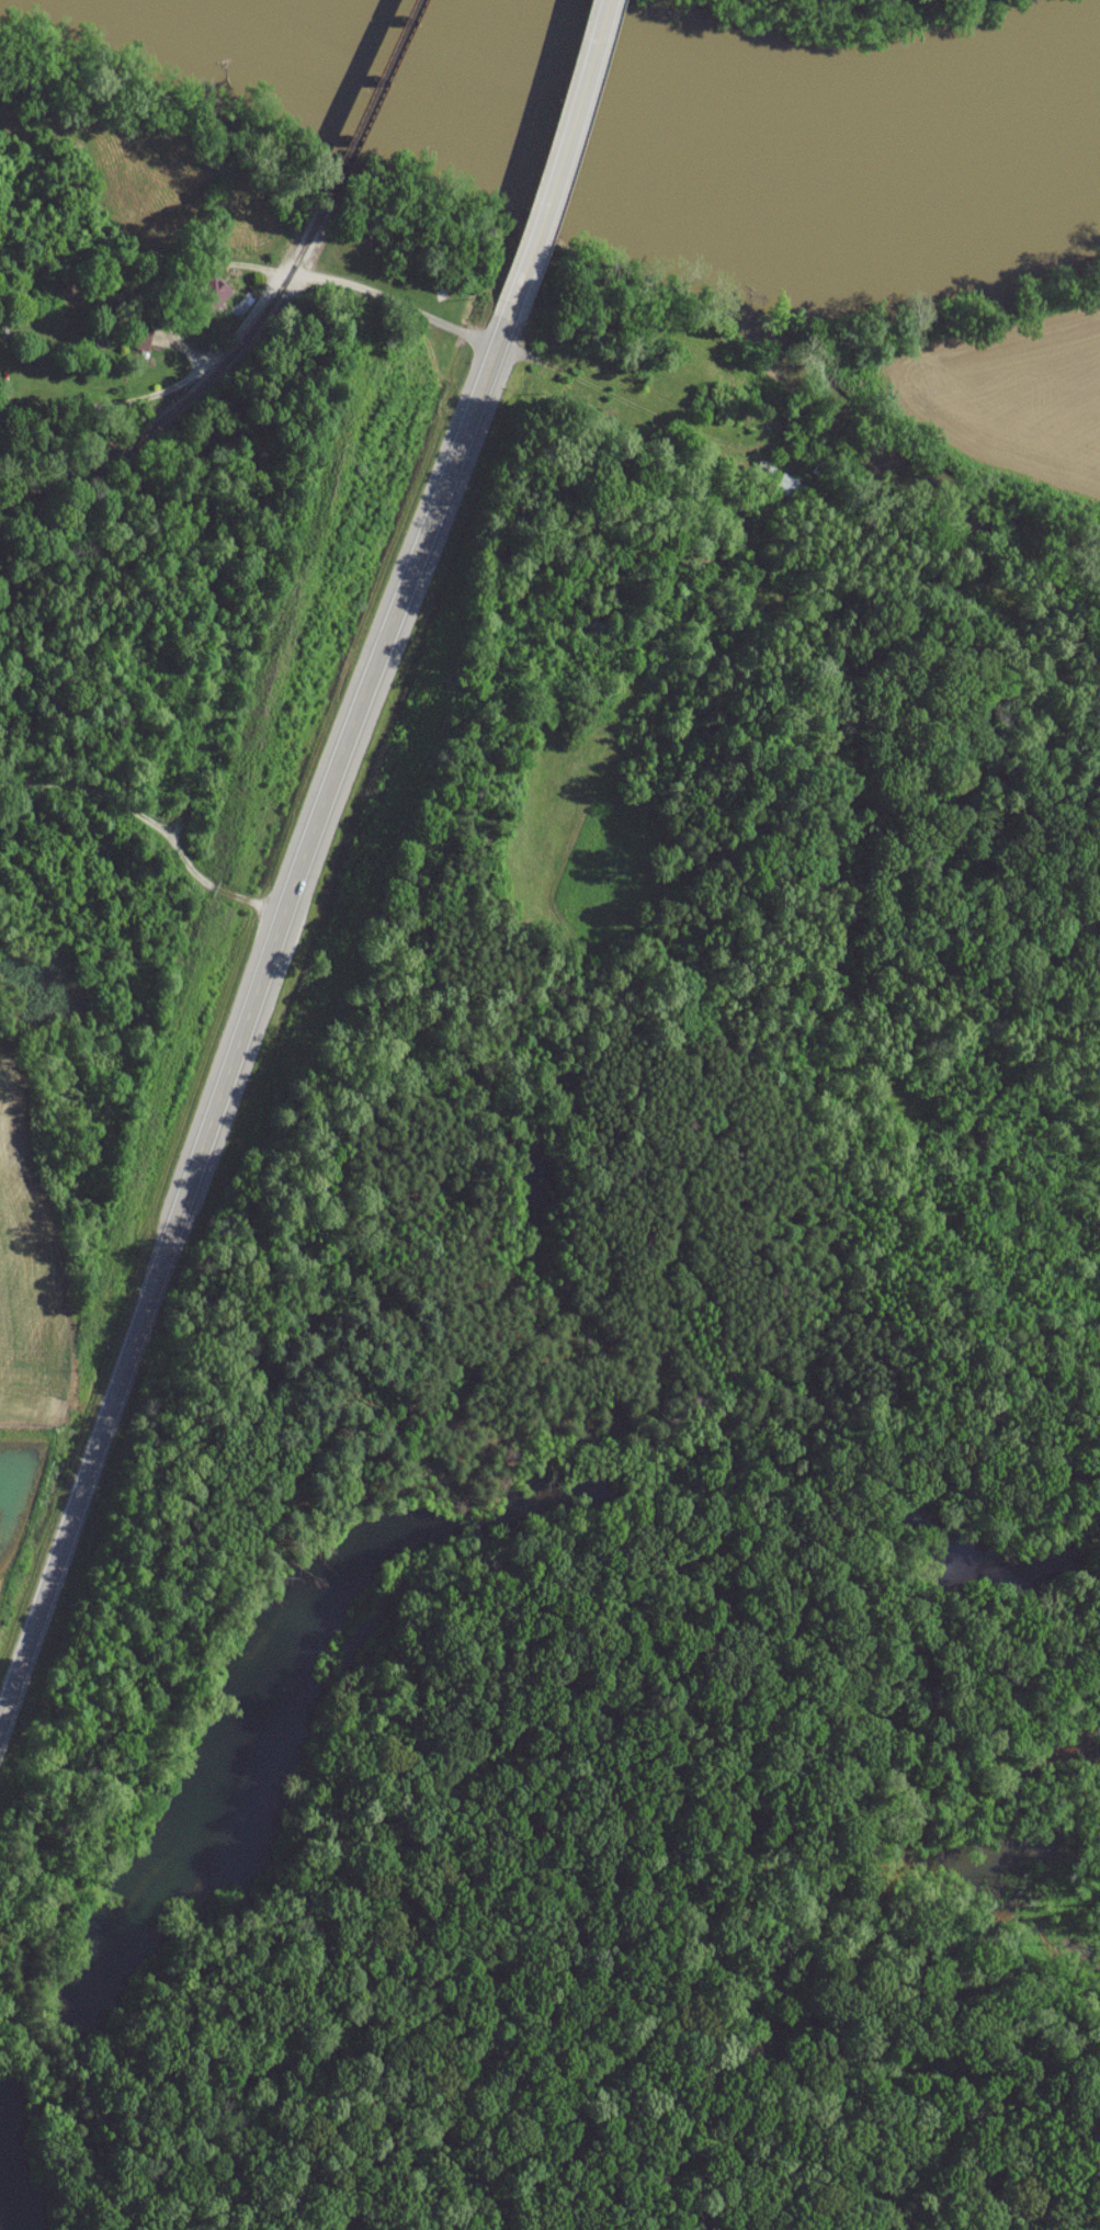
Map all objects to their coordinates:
railway: (378, 95)
river: (695, 137)
road: (554, 163)
building: (213, 294)
road: (247, 319)
building: (135, 339)
railway: (197, 382)
road: (614, 400)
building: (761, 474)
building: (783, 487)
road: (246, 1027)

